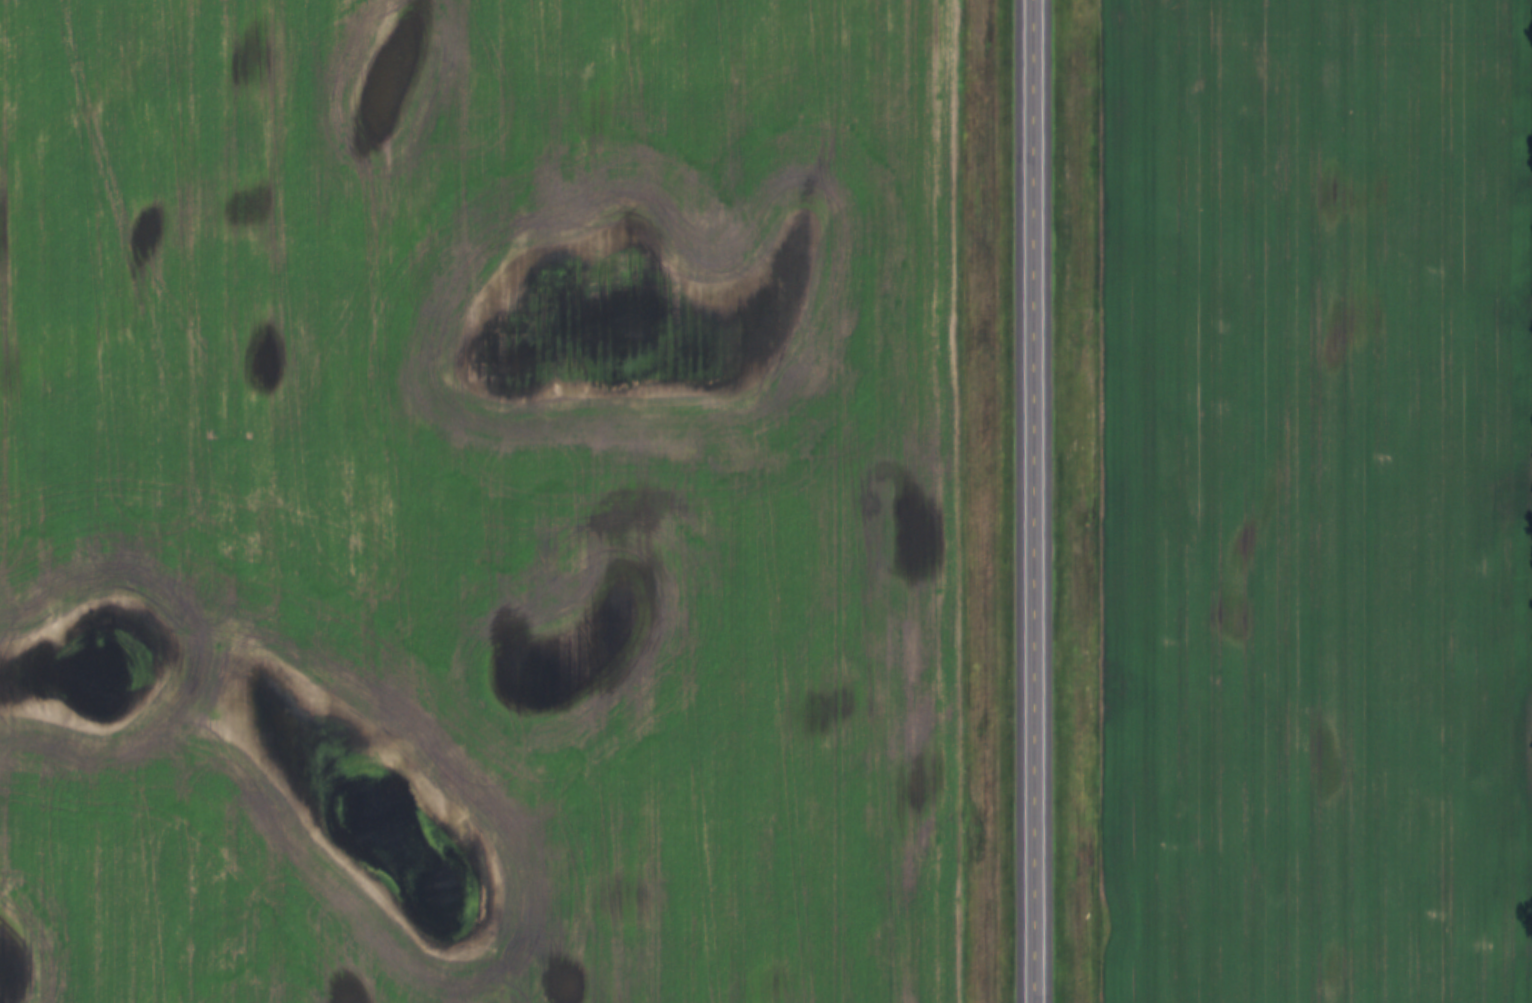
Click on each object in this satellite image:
road: (1035, 501)

